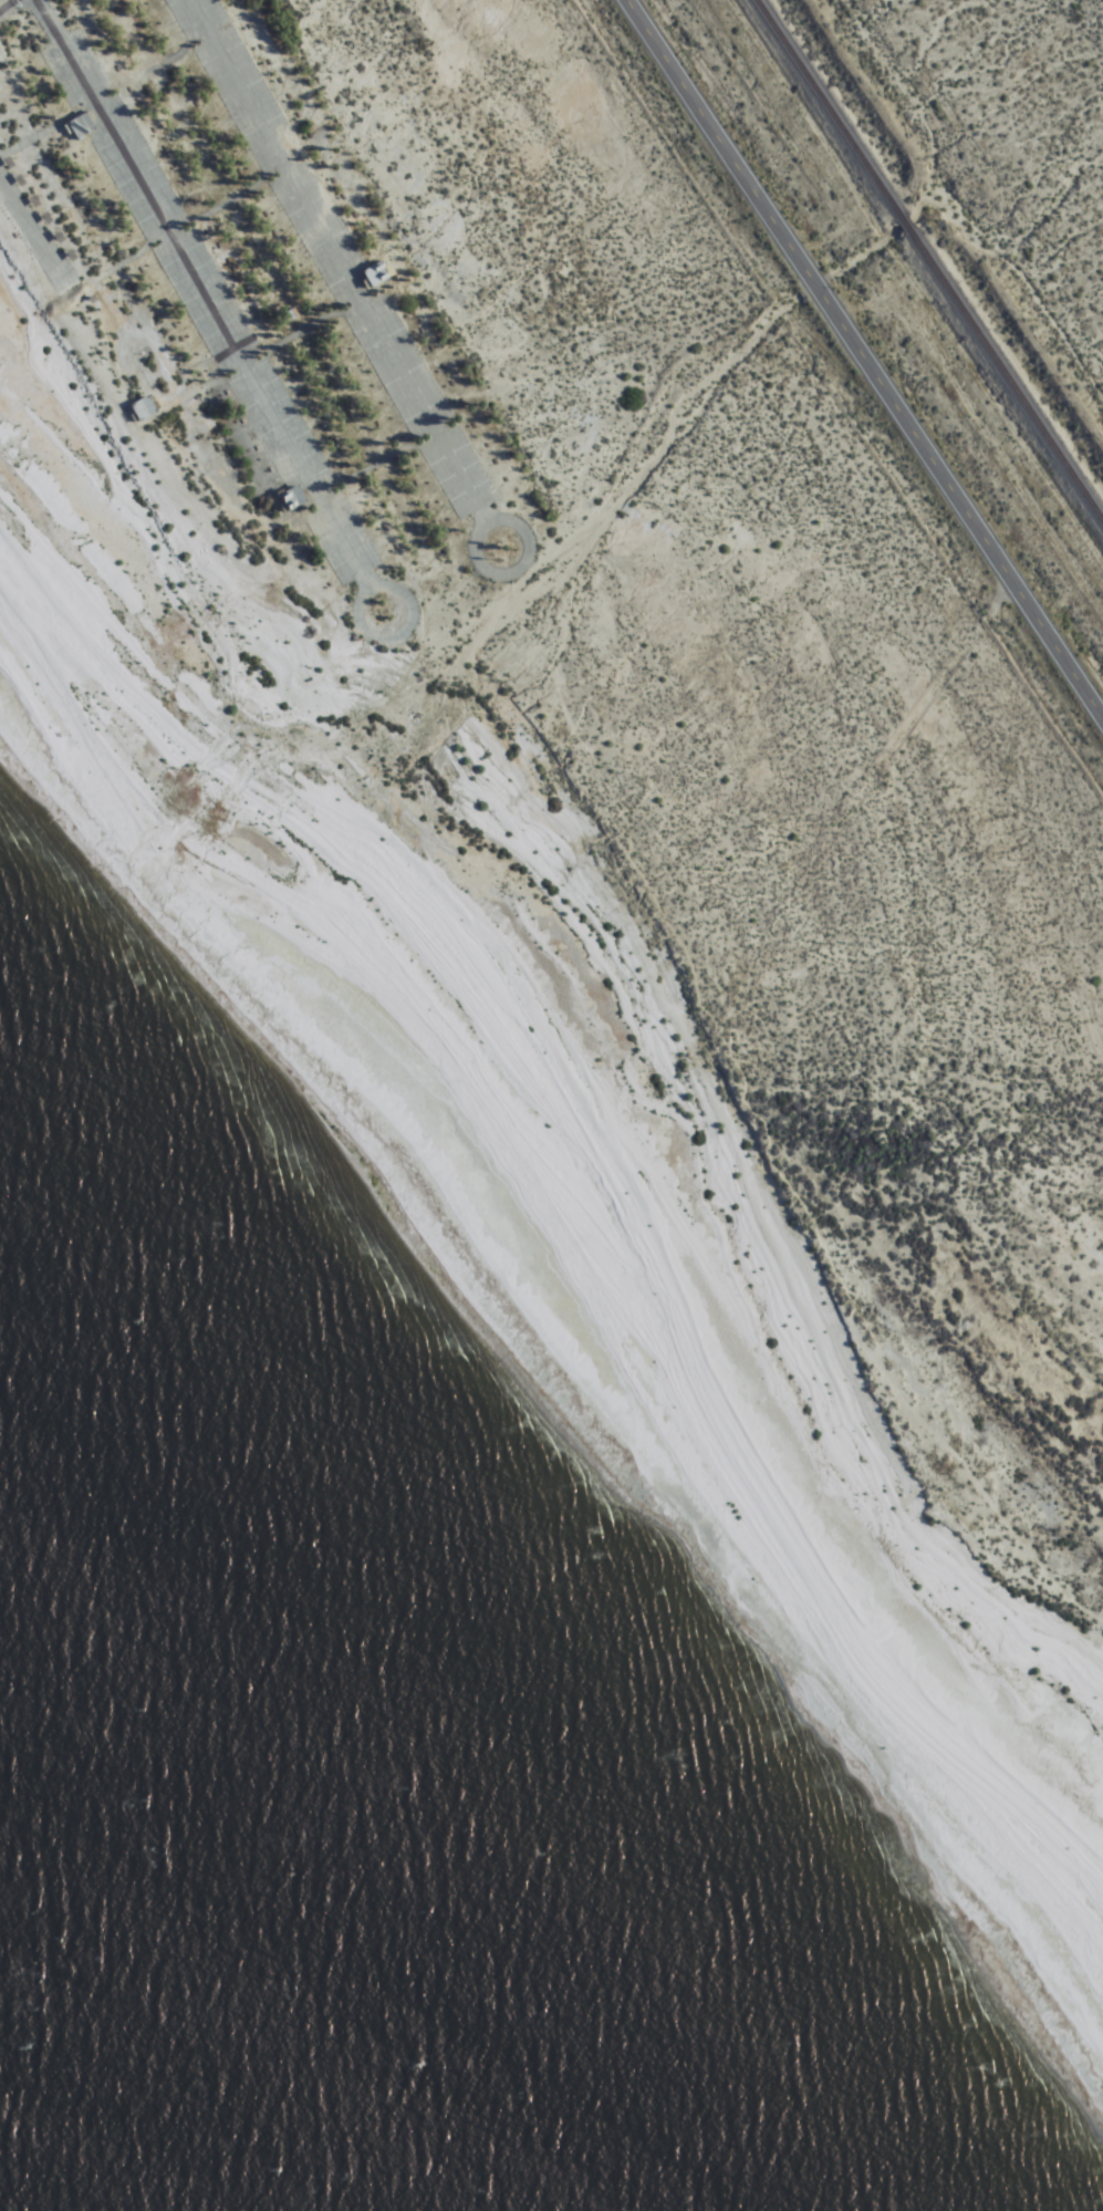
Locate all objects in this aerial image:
road: (3, 2)
railway: (829, 107)
road: (717, 137)
railway: (904, 221)
road: (30, 239)
road: (339, 272)
road: (814, 282)
road: (208, 305)
railway: (1006, 372)
road: (961, 501)

